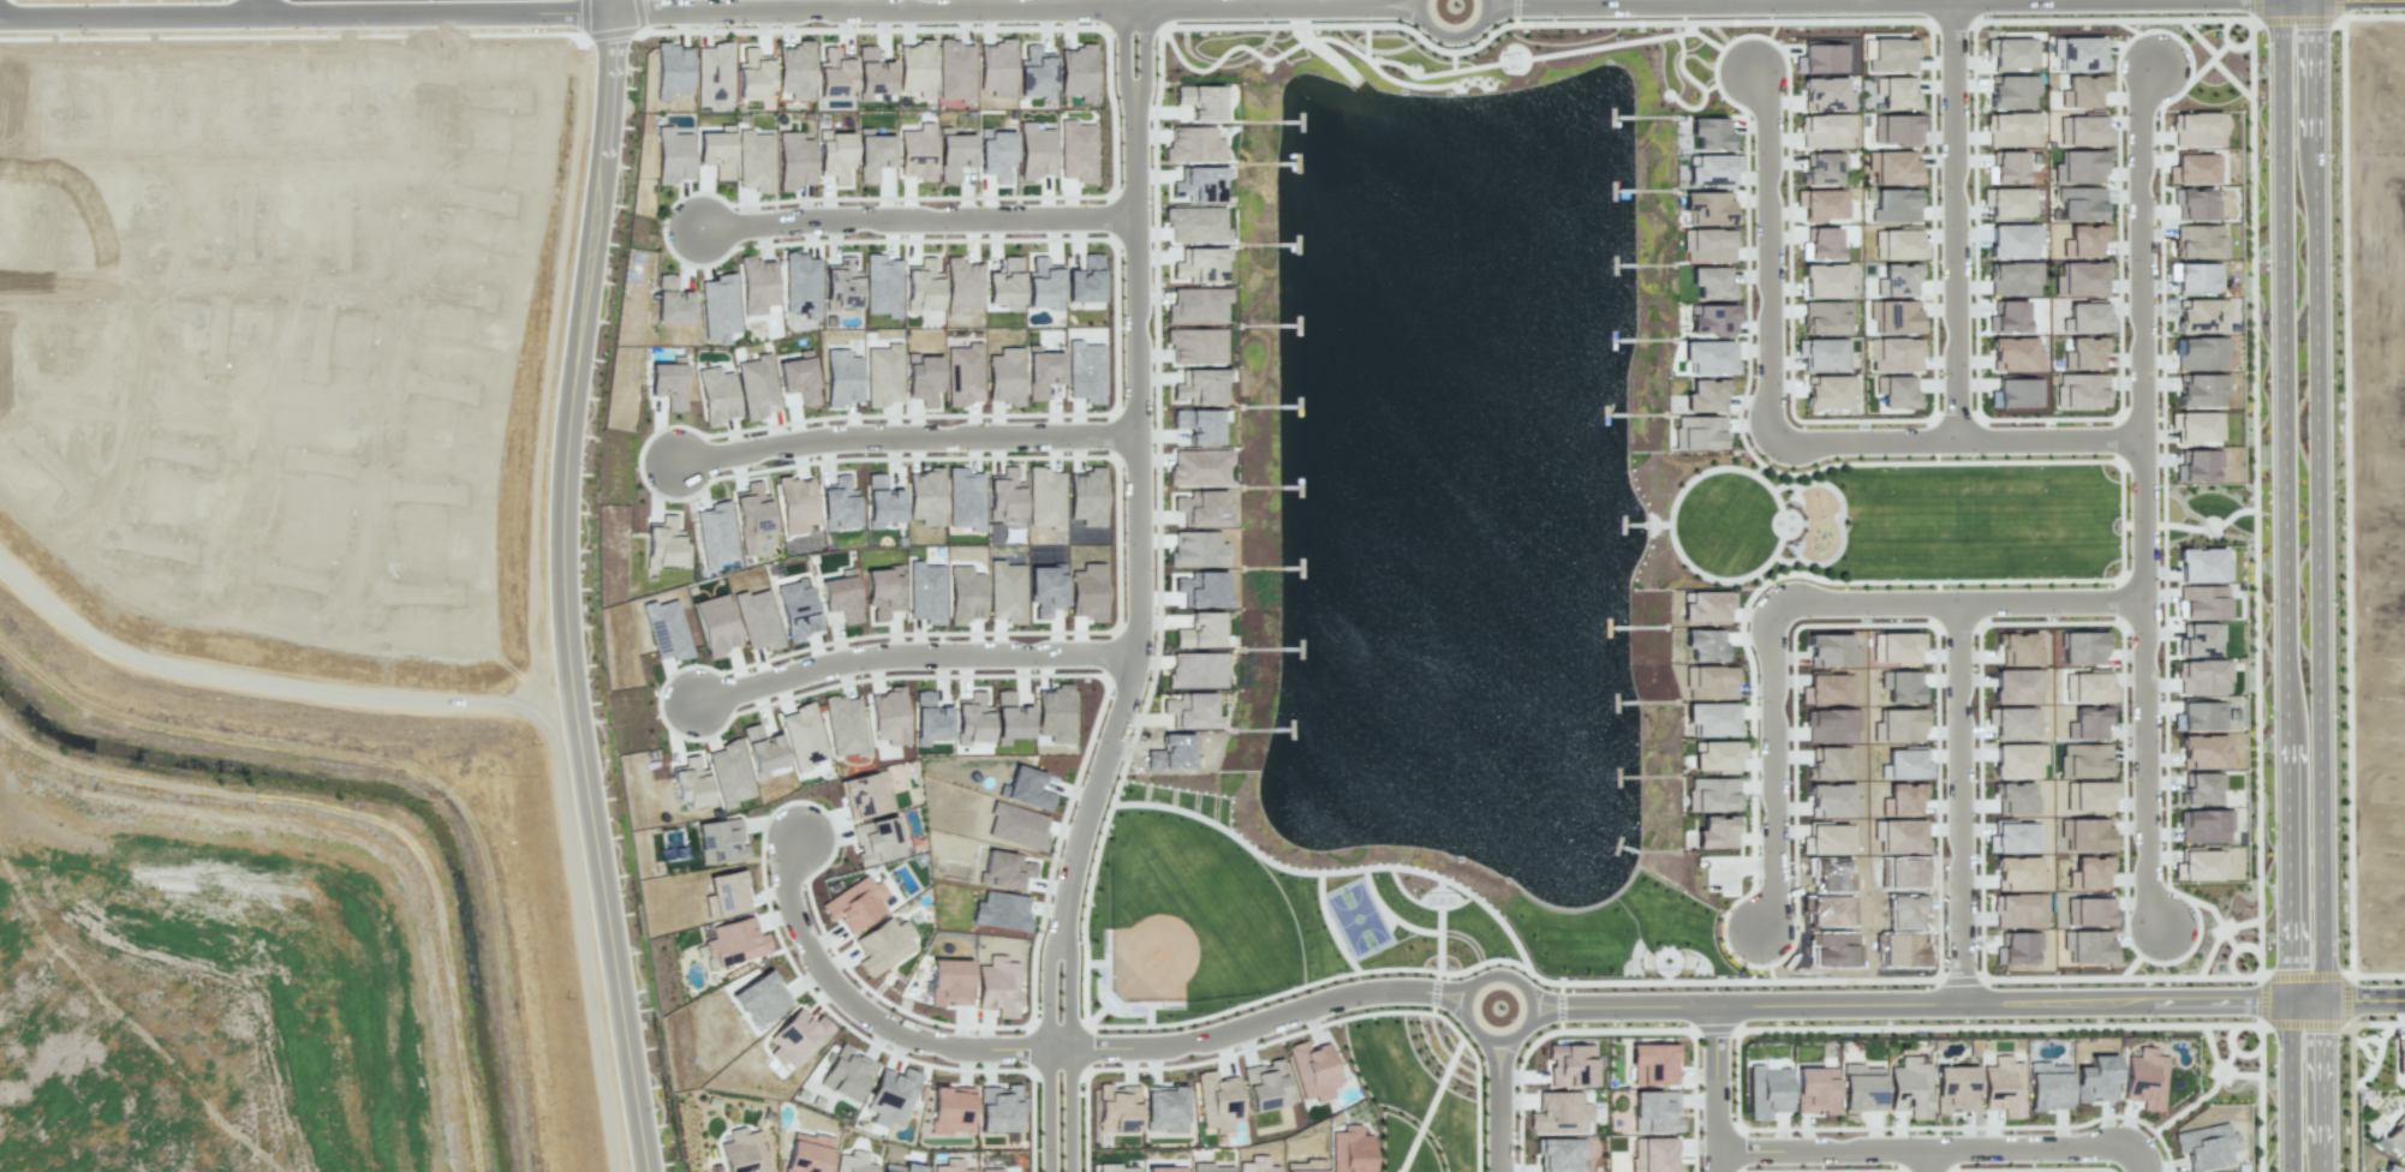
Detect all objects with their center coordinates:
road: (1132, 2)
road: (1703, 2)
road: (1719, 4)
road: (257, 7)
road: (1019, 10)
road: (310, 16)
road: (1452, 37)
building: (2011, 52)
building: (2077, 53)
building: (1890, 55)
building: (1821, 59)
building: (915, 67)
building: (996, 67)
building: (672, 70)
building: (795, 70)
building: (956, 71)
building: (1036, 71)
building: (714, 72)
building: (834, 72)
building: (1076, 72)
building: (752, 73)
building: (872, 73)
building: (2003, 90)
building: (2082, 91)
building: (1893, 92)
building: (1825, 94)
building: (1200, 100)
building: (2011, 128)
building: (2198, 128)
building: (1893, 130)
building: (1826, 131)
building: (2083, 131)
building: (1711, 132)
building: (1193, 144)
building: (787, 149)
building: (875, 149)
building: (995, 149)
building: (1036, 150)
building: (835, 151)
building: (917, 151)
building: (1076, 151)
building: (674, 153)
building: (716, 153)
building: (954, 154)
building: (754, 160)
building: (2007, 166)
building: (1893, 167)
building: (2078, 167)
building: (1712, 168)
building: (2194, 168)
building: (1199, 184)
building: (2009, 202)
building: (1822, 203)
building: (2079, 203)
building: (2195, 203)
building: (1894, 204)
building: (1707, 208)
road: (1956, 220)
building: (1198, 225)
road: (920, 232)
building: (2010, 240)
building: (2083, 240)
building: (2198, 241)
building: (1821, 243)
building: (1898, 244)
building: (1708, 245)
road: (2136, 247)
road: (1770, 256)
building: (1200, 264)
building: (2197, 276)
building: (2012, 279)
building: (2079, 279)
road: (204, 281)
building: (1824, 281)
building: (1085, 282)
building: (1712, 282)
building: (801, 283)
building: (1043, 283)
building: (757, 285)
building: (882, 285)
building: (923, 285)
building: (961, 285)
building: (842, 288)
building: (1003, 289)
building: (672, 301)
building: (720, 305)
building: (1196, 305)
road: (405, 309)
building: (2006, 316)
building: (2197, 316)
building: (1825, 317)
building: (1891, 317)
building: (1714, 318)
building: (2085, 318)
building: (1195, 346)
building: (1821, 353)
building: (2084, 353)
building: (2200, 353)
building: (1894, 354)
building: (2013, 354)
building: (1708, 357)
building: (1042, 371)
building: (1085, 372)
building: (963, 373)
building: (883, 375)
building: (1004, 376)
building: (799, 377)
building: (841, 377)
building: (923, 378)
building: (668, 383)
building: (1200, 385)
building: (757, 387)
building: (2201, 389)
building: (2081, 390)
building: (1828, 391)
building: (1896, 391)
building: (2016, 393)
building: (1706, 394)
building: (716, 395)
road: (135, 403)
building: (1198, 425)
building: (2196, 426)
building: (1699, 431)
road: (1956, 441)
road: (912, 448)
building: (2198, 465)
building: (1198, 466)
road: (2349, 492)
building: (1086, 496)
building: (929, 497)
building: (1045, 497)
building: (963, 500)
building: (1003, 500)
building: (881, 502)
building: (796, 503)
building: (839, 503)
building: (1200, 508)
building: (751, 514)
road: (2140, 519)
park: (1872, 524)
road: (1144, 531)
building: (715, 533)
building: (662, 546)
building: (1196, 549)
building: (2202, 564)
road: (2281, 585)
road: (2317, 585)
road: (572, 586)
building: (1201, 588)
building: (1045, 590)
building: (882, 591)
building: (925, 592)
building: (1005, 592)
building: (1086, 592)
building: (965, 594)
building: (840, 597)
road: (1946, 600)
building: (2203, 602)
building: (1705, 605)
building: (796, 610)
building: (756, 621)
building: (715, 624)
building: (666, 629)
building: (1200, 630)
building: (2198, 639)
building: (1703, 645)
building: (1896, 647)
building: (2082, 647)
building: (1831, 650)
building: (2019, 650)
road: (917, 668)
building: (1196, 669)
building: (2202, 676)
building: (1709, 682)
building: (2016, 684)
building: (1900, 686)
building: (1826, 688)
building: (2088, 688)
building: (1192, 711)
building: (1054, 713)
building: (888, 716)
building: (2201, 716)
building: (929, 718)
building: (1010, 718)
building: (1711, 718)
building: (972, 719)
building: (2012, 720)
building: (2087, 723)
building: (845, 725)
building: (1831, 725)
building: (1899, 725)
building: (801, 735)
building: (762, 751)
building: (1171, 752)
building: (2204, 752)
building: (1718, 757)
building: (2017, 759)
building: (2087, 760)
building: (1828, 761)
building: (1904, 764)
road: (2143, 764)
road: (411, 769)
road: (1772, 772)
building: (729, 773)
building: (688, 782)
building: (1025, 788)
building: (2200, 789)
building: (865, 795)
building: (1712, 795)
building: (2088, 795)
building: (2013, 797)
building: (1902, 799)
building: (1830, 800)
road: (1944, 802)
building: (1016, 826)
building: (2204, 826)
building: (1715, 831)
building: (2084, 833)
building: (1900, 836)
building: (2013, 837)
building: (877, 839)
building: (1827, 839)
building: (720, 841)
building: (2201, 866)
building: (1003, 869)
building: (2089, 873)
road: (813, 874)
building: (1827, 874)
building: (2018, 874)
building: (726, 893)
building: (855, 903)
building: (2018, 909)
building: (1826, 910)
building: (1903, 910)
building: (1001, 911)
building: (2088, 911)
park: (1190, 913)
park: (1251, 916)
park: (1356, 917)
building: (736, 943)
building: (883, 945)
building: (2087, 945)
building: (2016, 947)
building: (1900, 949)
road: (1499, 974)
building: (950, 983)
building: (997, 986)
crop: (210, 998)
building: (759, 998)
road: (2363, 999)
road: (1924, 1005)
road: (863, 1010)
road: (1261, 1019)
road: (2386, 1022)
road: (1788, 1029)
building: (794, 1036)
road: (2245, 1050)
building: (2399, 1057)
building: (1653, 1064)
building: (1570, 1065)
road: (2220, 1069)
building: (1313, 1070)
building: (846, 1072)
building: (2144, 1077)
building: (2094, 1078)
building: (1265, 1086)
building: (2047, 1086)
park: (1420, 1087)
building: (1909, 1087)
building: (1953, 1087)
building: (2003, 1087)
building: (1861, 1088)
road: (1702, 1089)
building: (1815, 1089)
road: (2208, 1090)
building: (1765, 1092)
road: (2351, 1092)
building: (891, 1098)
building: (1218, 1101)
road: (1498, 1106)
road: (1072, 1107)
building: (1117, 1107)
building: (1164, 1107)
building: (950, 1108)
building: (997, 1108)
road: (1048, 1108)
building: (1654, 1111)
building: (1558, 1113)
building: (2395, 1137)
building: (2206, 1146)
road: (1918, 1148)
building: (742, 1150)
building: (1350, 1150)
building: (808, 1153)
building: (1559, 1154)
building: (1653, 1154)
road: (1926, 1160)
building: (854, 1162)
building: (1257, 1164)
road: (2134, 1164)
building: (950, 1166)
building: (1307, 1166)
building: (715, 1167)
building: (899, 1167)
building: (1114, 1167)
building: (1202, 1167)
building: (1004, 1168)
building: (1165, 1168)
building: (2391, 1168)

